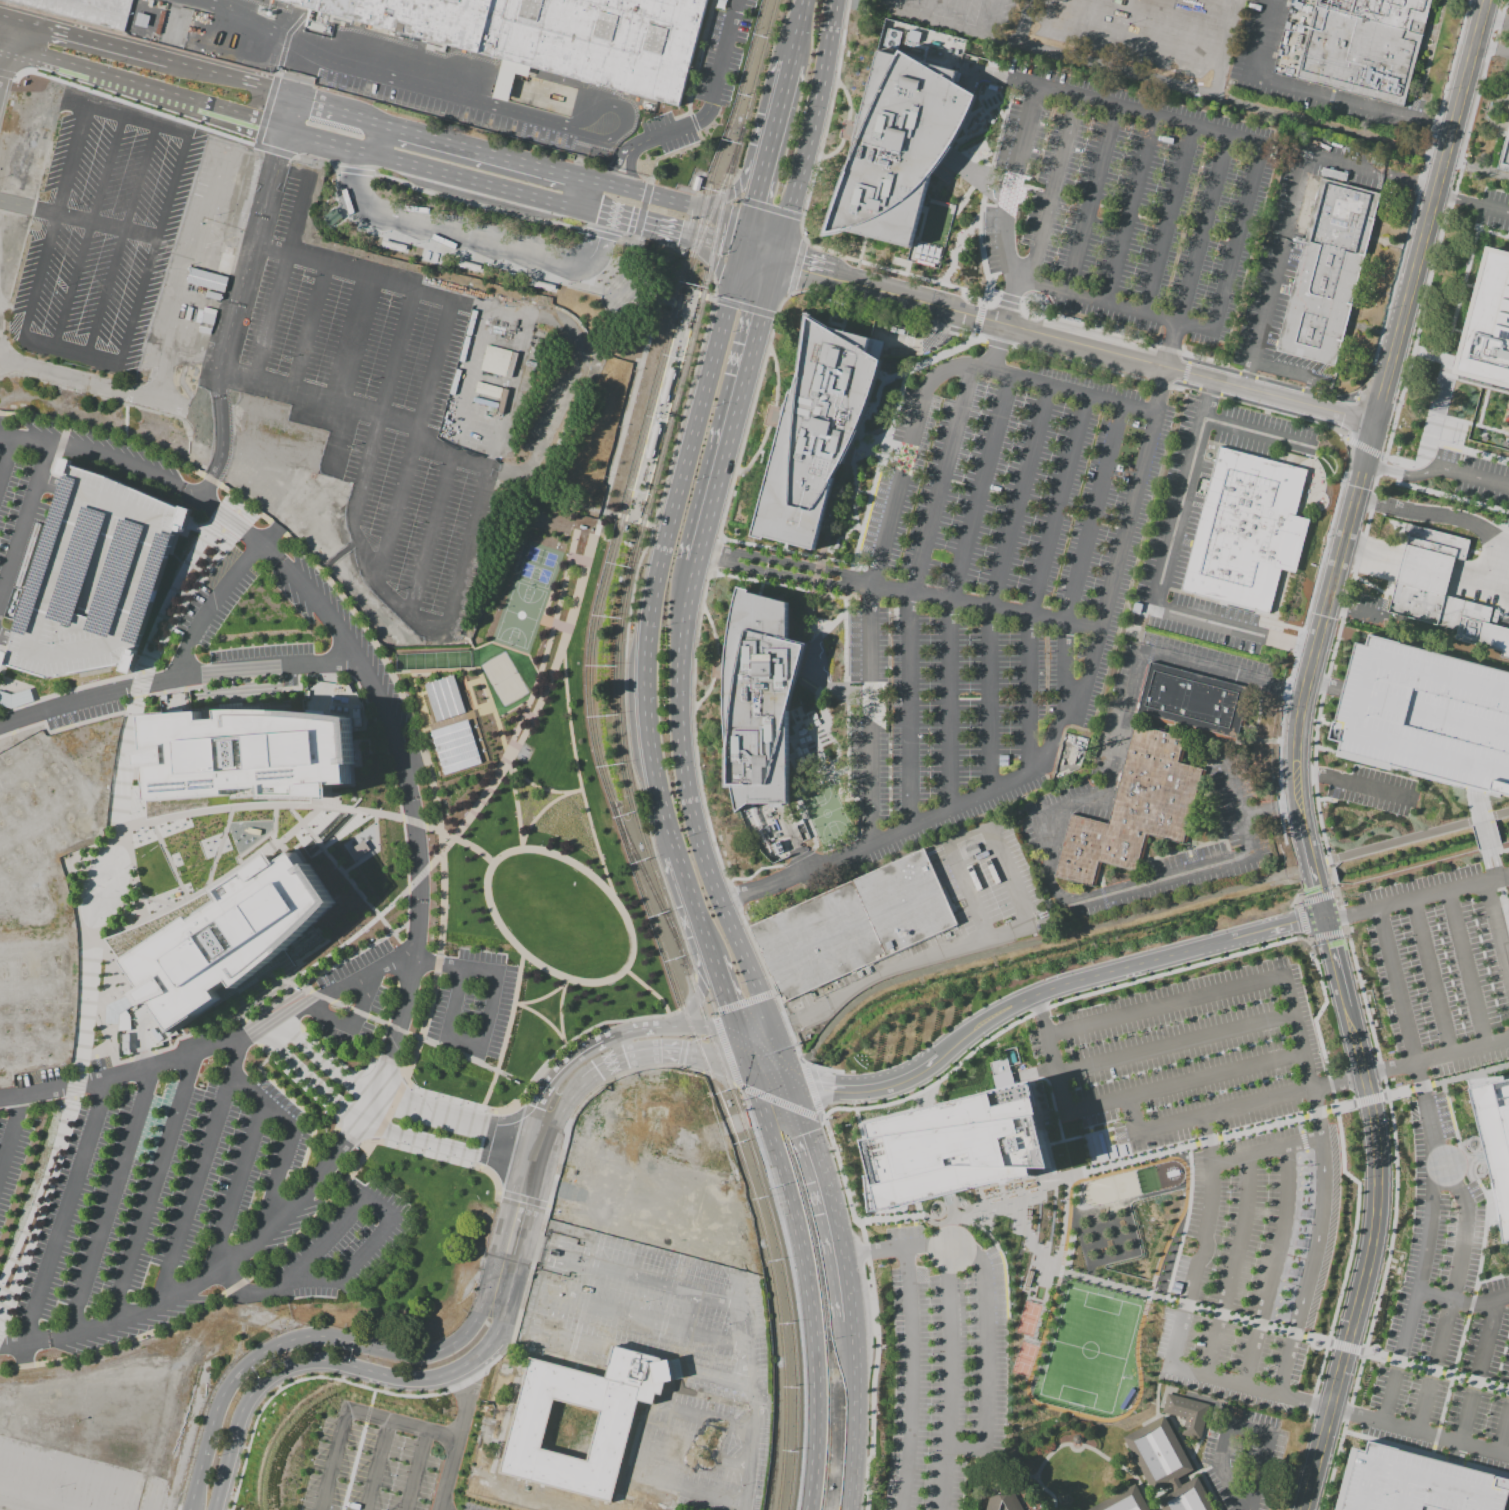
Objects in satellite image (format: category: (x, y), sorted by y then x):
building: (83, 9)
road: (5, 17)
road: (951, 25)
road: (797, 32)
building: (553, 36)
road: (1258, 36)
road: (5, 41)
road: (88, 41)
building: (1357, 46)
road: (1492, 50)
road: (695, 58)
road: (1470, 64)
road: (19, 72)
road: (276, 72)
road: (6, 73)
road: (101, 73)
road: (13, 75)
road: (376, 75)
road: (1140, 77)
road: (212, 78)
road: (713, 95)
road: (1329, 95)
road: (140, 106)
road: (323, 108)
road: (265, 109)
road: (681, 114)
road: (244, 116)
road: (777, 118)
road: (132, 120)
road: (626, 121)
road: (693, 122)
road: (1431, 123)
road: (808, 131)
road: (698, 135)
railway: (739, 136)
road: (1237, 143)
railway: (723, 144)
road: (1449, 144)
road: (274, 149)
building: (899, 149)
road: (475, 150)
road: (666, 155)
building: (1504, 155)
road: (314, 160)
road: (616, 162)
road: (1454, 162)
road: (1473, 167)
road: (631, 169)
road: (353, 170)
road: (1495, 173)
road: (445, 174)
road: (1441, 175)
road: (737, 189)
road: (628, 190)
road: (1053, 191)
road: (599, 194)
road: (729, 194)
road: (1455, 196)
road: (1092, 201)
road: (477, 204)
road: (1005, 205)
road: (1491, 206)
road: (369, 207)
road: (1293, 207)
road: (770, 209)
road: (642, 210)
railway: (711, 210)
parking lot: (1119, 211)
road: (752, 212)
road: (1130, 212)
road: (294, 214)
road: (77, 221)
road: (50, 222)
road: (623, 222)
road: (1167, 222)
road: (736, 226)
road: (651, 229)
road: (801, 230)
road: (83, 231)
road: (1202, 231)
road: (600, 234)
traffic signals: (747, 236)
traffic signals: (683, 238)
road: (117, 240)
road: (726, 240)
road: (476, 241)
road: (625, 242)
road: (979, 245)
building: (393, 246)
road: (718, 246)
road: (153, 249)
road: (597, 249)
road: (455, 251)
traffic signals: (742, 253)
road: (533, 256)
building: (213, 258)
road: (708, 258)
traffic signals: (773, 261)
building: (468, 266)
road: (626, 266)
road: (796, 268)
road: (892, 269)
building: (1322, 275)
road: (189, 278)
road: (735, 278)
building: (544, 285)
road: (991, 294)
road: (703, 297)
road: (1009, 298)
road: (653, 299)
road: (982, 299)
road: (238, 300)
road: (1109, 303)
road: (779, 304)
road: (857, 305)
road: (744, 308)
road: (726, 310)
road: (688, 311)
road: (276, 315)
road: (977, 318)
road: (994, 319)
building: (1487, 323)
road: (317, 326)
road: (1085, 326)
road: (942, 329)
road: (973, 335)
road: (971, 337)
road: (357, 338)
road: (998, 344)
road: (1174, 345)
road: (1171, 349)
road: (93, 359)
road: (1207, 359)
building: (495, 361)
road: (433, 366)
road: (1096, 366)
road: (1184, 371)
building: (667, 386)
road: (1043, 386)
road: (100, 387)
road: (1296, 400)
road: (567, 401)
road: (733, 418)
road: (377, 420)
road: (110, 426)
road: (745, 426)
road: (104, 433)
road: (1257, 434)
road: (199, 439)
building: (816, 440)
building: (652, 441)
road: (6, 457)
road: (449, 469)
road: (1386, 469)
road: (1457, 473)
road: (487, 478)
road: (210, 479)
road: (48, 484)
railway: (645, 500)
road: (243, 502)
road: (1369, 505)
road: (241, 507)
road: (585, 507)
road: (636, 509)
road: (1353, 511)
road: (394, 517)
road: (1447, 518)
road: (230, 520)
road: (24, 521)
road: (275, 528)
building: (1244, 530)
parking lot: (18, 531)
road: (221, 531)
parking lot: (1171, 531)
railway: (613, 545)
road: (334, 554)
road: (713, 554)
road: (577, 559)
road: (1082, 561)
road: (874, 572)
road: (1162, 575)
building: (93, 577)
parking lot: (93, 577)
parking lot: (993, 581)
road: (655, 582)
road: (1039, 583)
road: (172, 587)
road: (997, 587)
road: (898, 590)
road: (951, 590)
road: (911, 594)
road: (187, 596)
building: (1446, 596)
road: (575, 598)
road: (209, 607)
parking lot: (260, 610)
railway: (622, 618)
road: (559, 625)
road: (626, 626)
road: (6, 638)
road: (545, 646)
road: (144, 664)
road: (433, 669)
road: (1206, 671)
road: (176, 677)
road: (139, 683)
road: (540, 685)
road: (1286, 690)
road: (243, 691)
building: (443, 697)
building: (758, 697)
building: (15, 699)
building: (1190, 701)
road: (512, 708)
building: (1425, 713)
parking garage: (1425, 713)
road: (528, 715)
road: (412, 724)
road: (1124, 726)
road: (62, 728)
road: (1058, 735)
building: (454, 746)
road: (505, 755)
building: (241, 758)
road: (577, 774)
road: (1350, 783)
road: (540, 787)
road: (700, 788)
road: (397, 804)
road: (410, 804)
road: (258, 805)
road: (1238, 807)
road: (691, 809)
road: (539, 811)
road: (1069, 811)
building: (1141, 811)
park: (824, 812)
road: (413, 821)
road: (273, 825)
road: (1411, 838)
road: (459, 840)
road: (218, 848)
building: (357, 849)
road: (1309, 851)
road: (167, 860)
road: (492, 861)
road: (1046, 868)
road: (416, 876)
road: (348, 879)
road: (1159, 880)
road: (104, 883)
road: (212, 884)
railway: (651, 884)
road: (1442, 890)
road: (1320, 891)
road: (692, 907)
road: (1350, 909)
traffic signals: (1326, 914)
building: (854, 925)
road: (1008, 929)
road: (1496, 932)
building: (221, 937)
road: (436, 962)
road: (1467, 968)
road: (1277, 975)
road: (1431, 976)
road: (1138, 979)
road: (565, 980)
road: (1395, 985)
road: (298, 986)
road: (1048, 988)
road: (653, 993)
road: (705, 994)
road: (319, 996)
road: (541, 996)
road: (725, 996)
road: (697, 997)
road: (514, 1002)
road: (744, 1003)
road: (340, 1004)
building: (118, 1008)
road: (559, 1011)
road: (357, 1012)
road: (240, 1013)
road: (242, 1017)
road: (542, 1018)
road: (376, 1020)
road: (488, 1022)
road: (352, 1024)
road: (594, 1024)
road: (421, 1027)
road: (395, 1028)
road: (641, 1029)
road: (249, 1030)
road: (504, 1030)
traffic signals: (738, 1032)
road: (412, 1034)
road: (563, 1042)
road: (795, 1047)
road: (725, 1050)
road: (780, 1055)
road: (93, 1056)
road: (1438, 1059)
road: (735, 1066)
traffic signals: (751, 1070)
traffic signals: (789, 1080)
road: (1445, 1080)
road: (584, 1081)
road: (300, 1082)
road: (74, 1083)
road: (810, 1087)
road: (591, 1091)
road: (1144, 1093)
road: (452, 1099)
road: (1368, 1100)
road: (780, 1101)
road: (402, 1103)
road: (388, 1109)
road: (493, 1112)
road: (821, 1115)
road: (1173, 1124)
road: (374, 1126)
road: (336, 1129)
road: (11, 1130)
road: (347, 1136)
road: (486, 1138)
building: (1493, 1143)
road: (286, 1146)
road: (361, 1146)
railway: (740, 1149)
building: (954, 1149)
road: (434, 1155)
road: (632, 1157)
parking lot: (224, 1161)
road: (479, 1165)
road: (200, 1169)
road: (532, 1170)
road: (1378, 1178)
road: (576, 1182)
road: (495, 1184)
road: (152, 1186)
road: (236, 1190)
road: (498, 1191)
road: (632, 1195)
road: (42, 1197)
road: (521, 1198)
road: (831, 1198)
road: (110, 1200)
road: (545, 1204)
road: (1349, 1208)
road: (687, 1209)
road: (63, 1214)
road: (316, 1214)
road: (276, 1221)
railway: (776, 1229)
road: (952, 1233)
road: (1317, 1237)
road: (646, 1238)
road: (371, 1239)
road: (1422, 1242)
road: (535, 1248)
road: (521, 1250)
road: (1030, 1252)
road: (547, 1254)
road: (1231, 1264)
road: (1272, 1265)
road: (807, 1266)
road: (1191, 1266)
road: (234, 1286)
road: (667, 1288)
road: (794, 1293)
road: (1461, 1299)
road: (1447, 1303)
road: (873, 1312)
road: (555, 1313)
road: (652, 1317)
road: (516, 1320)
road: (131, 1338)
road: (380, 1348)
road: (911, 1348)
park: (1087, 1350)
road: (983, 1355)
road: (651, 1357)
road: (949, 1358)
road: (320, 1362)
road: (1287, 1363)
road: (22, 1366)
road: (6, 1368)
road: (1476, 1372)
road: (296, 1379)
road: (466, 1381)
road: (752, 1381)
road: (1250, 1385)
road: (371, 1397)
road: (366, 1413)
building: (1187, 1414)
building: (1236, 1414)
road: (856, 1416)
building: (575, 1424)
road: (400, 1425)
road: (1240, 1428)
road: (275, 1430)
road: (1503, 1431)
road: (1419, 1433)
road: (455, 1438)
building: (1158, 1453)
road: (699, 1455)
parking lot: (1244, 1458)
road: (333, 1460)
parking lot: (381, 1463)
road: (352, 1465)
road: (376, 1466)
road: (415, 1471)
road: (1312, 1476)
building: (1415, 1483)
parking lot: (1415, 1483)
building: (1186, 1497)
building: (1003, 1500)
building: (1123, 1501)

